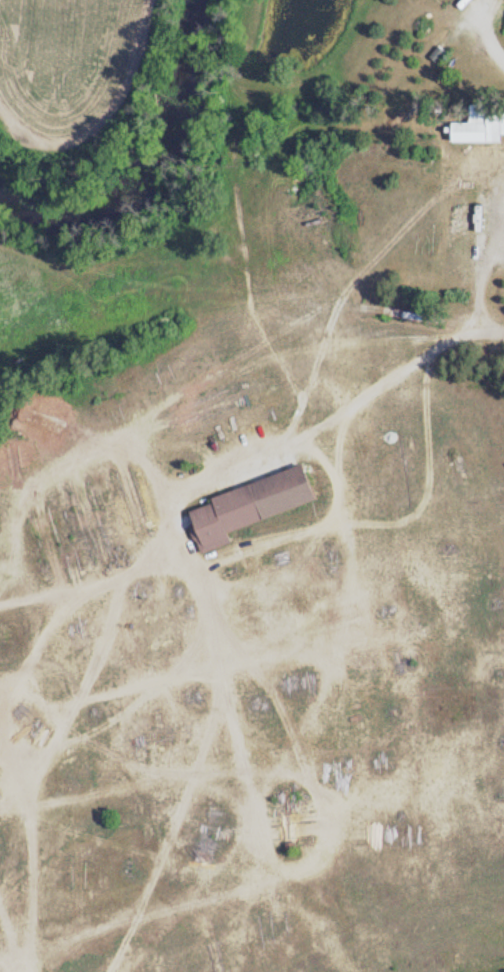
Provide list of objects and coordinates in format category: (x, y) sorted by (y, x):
road: (490, 37)
building: (483, 125)
road: (488, 267)
road: (244, 452)
building: (254, 505)

